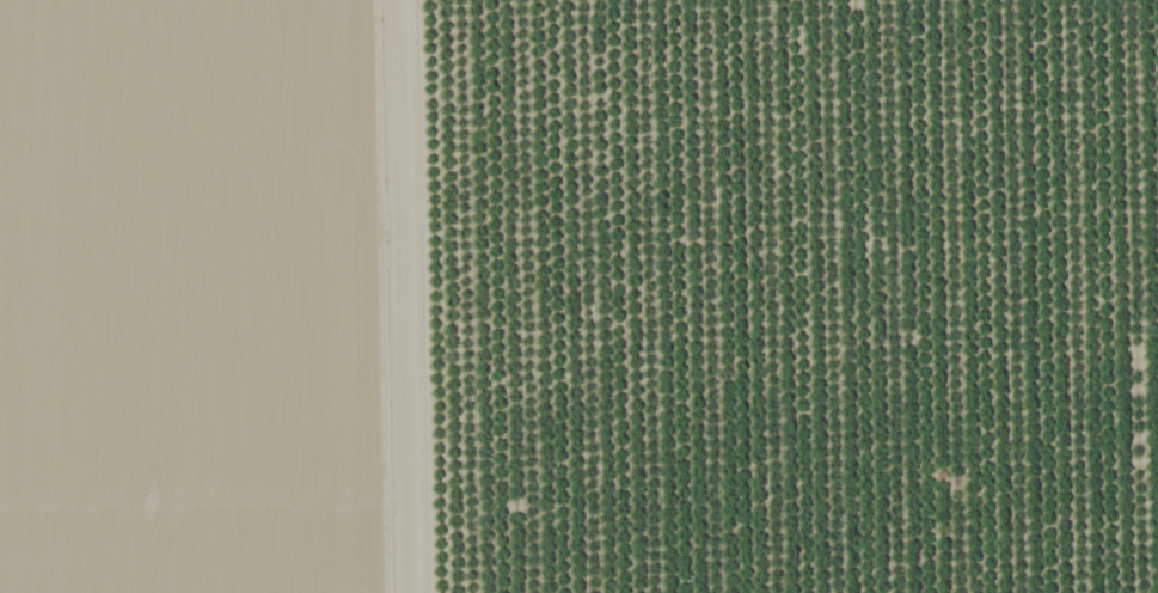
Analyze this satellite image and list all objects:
crop: (212, 296)
road: (412, 296)

